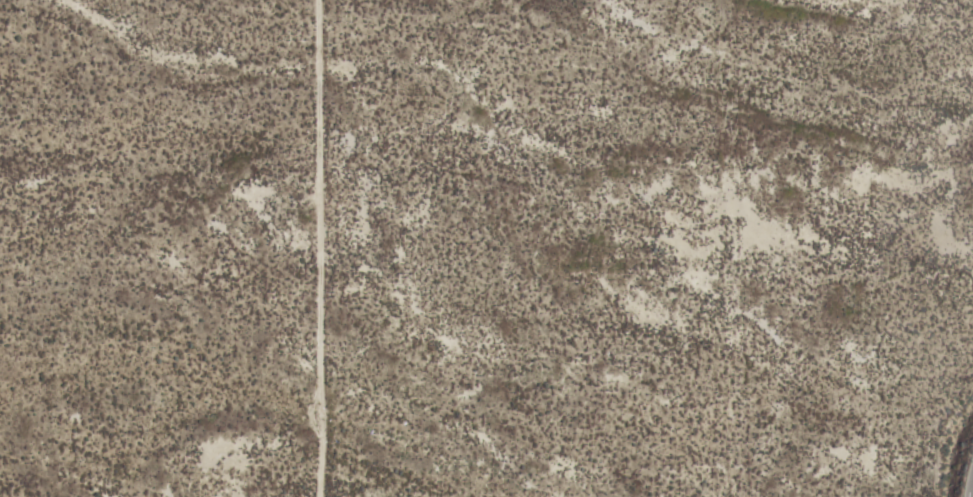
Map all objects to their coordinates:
road: (318, 248)

